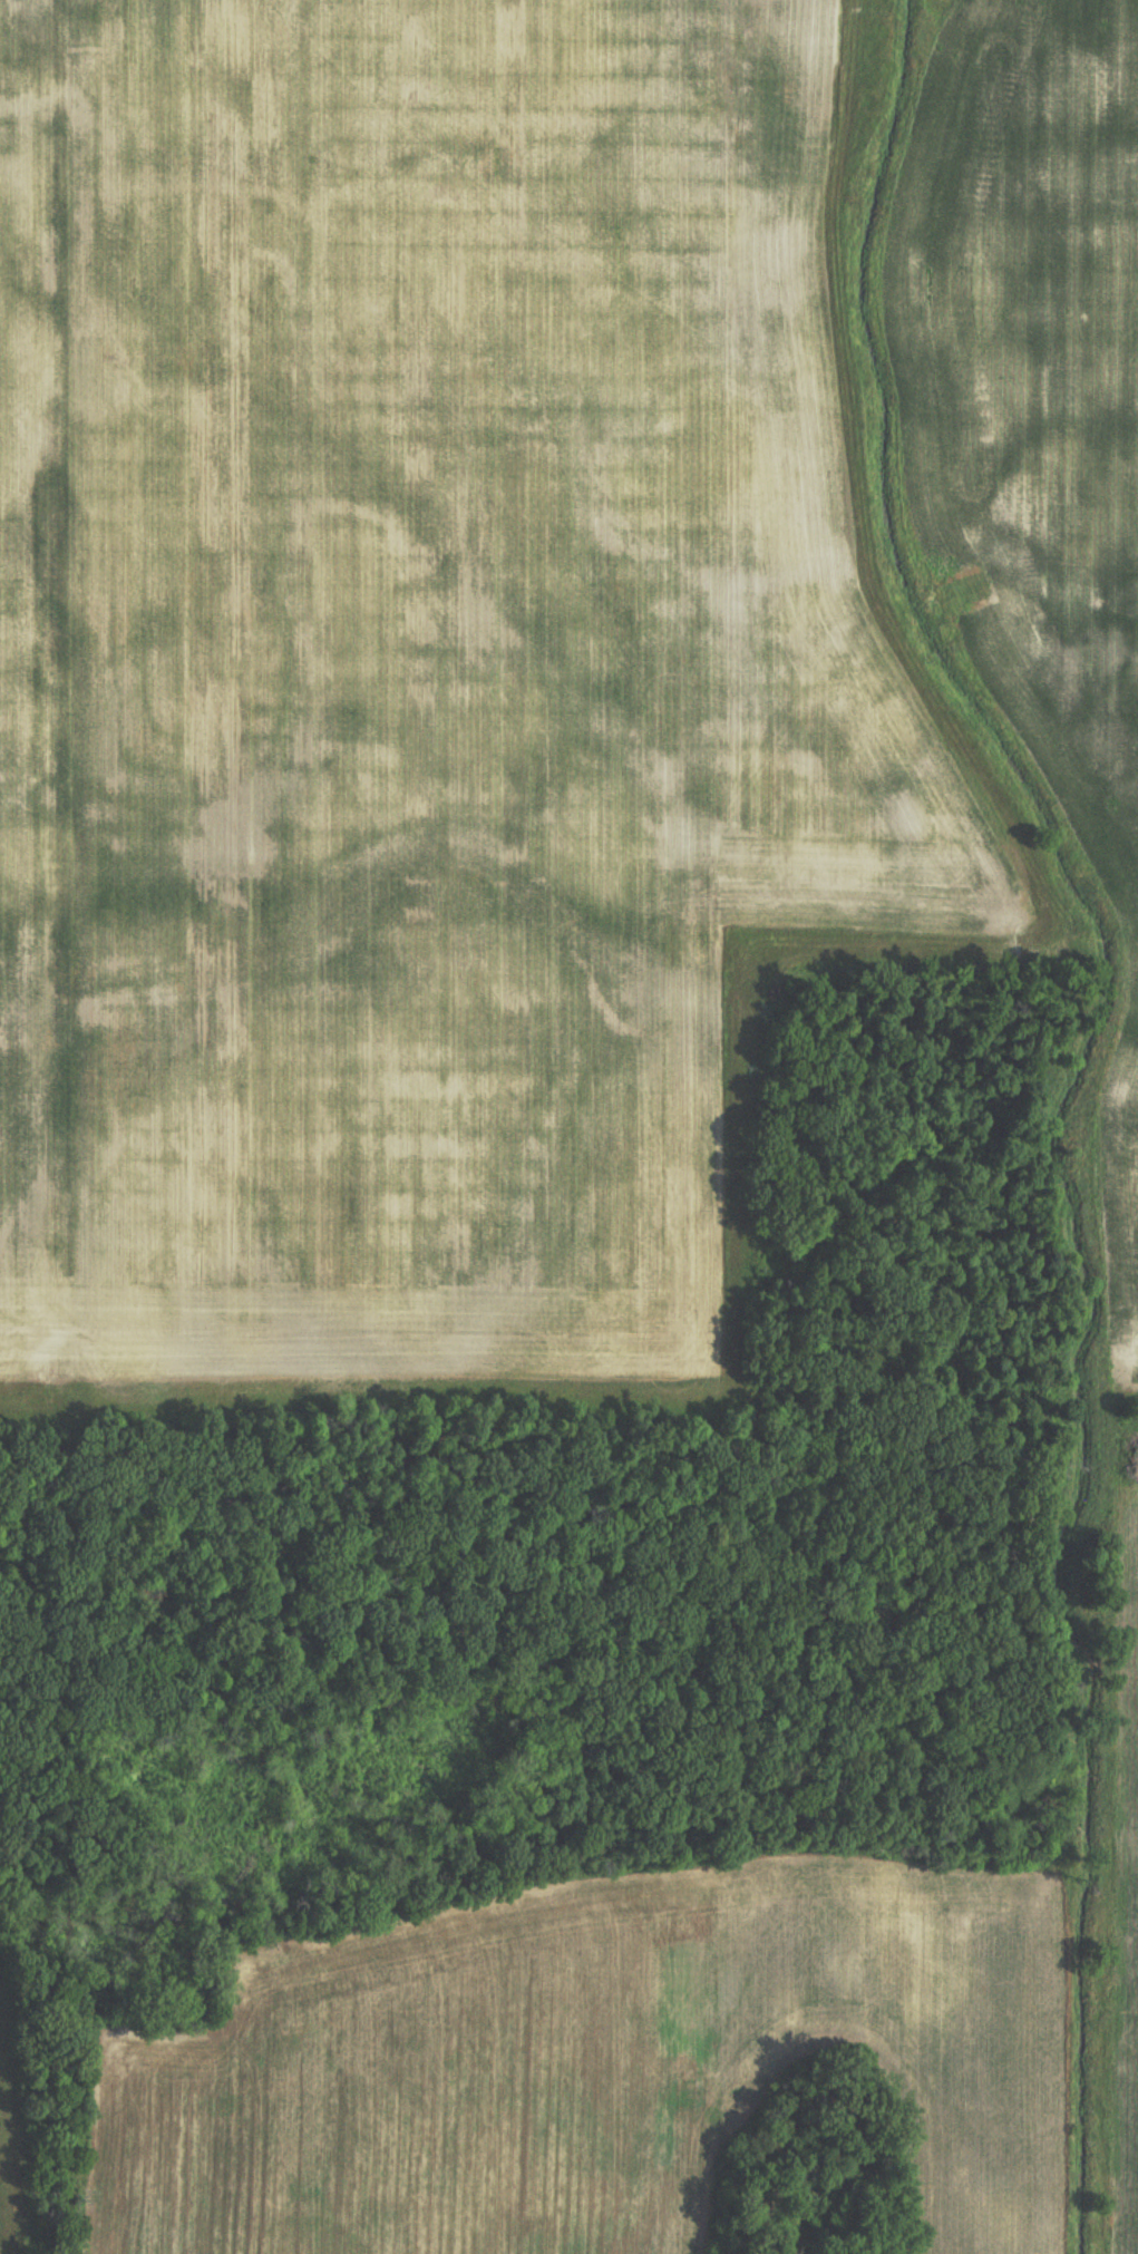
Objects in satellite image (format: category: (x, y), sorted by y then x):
crop: (1041, 453)

